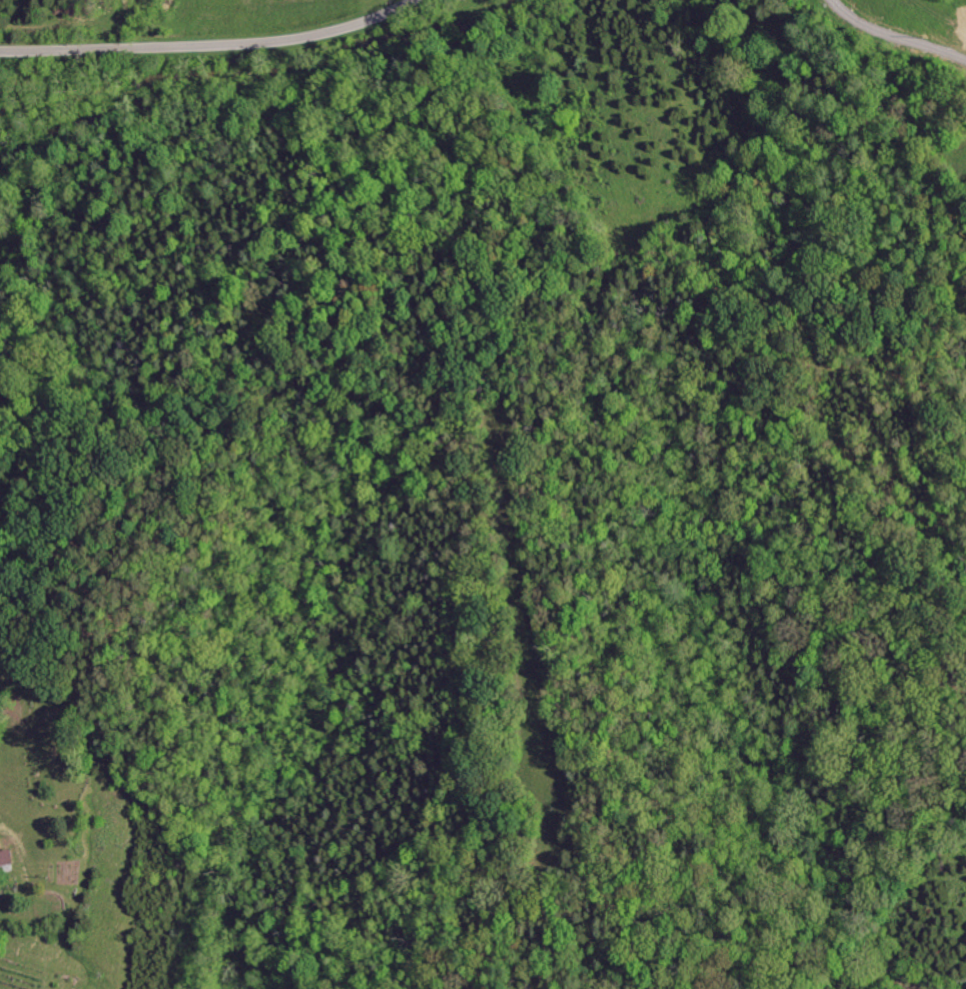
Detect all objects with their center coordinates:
road: (209, 45)
building: (6, 859)

